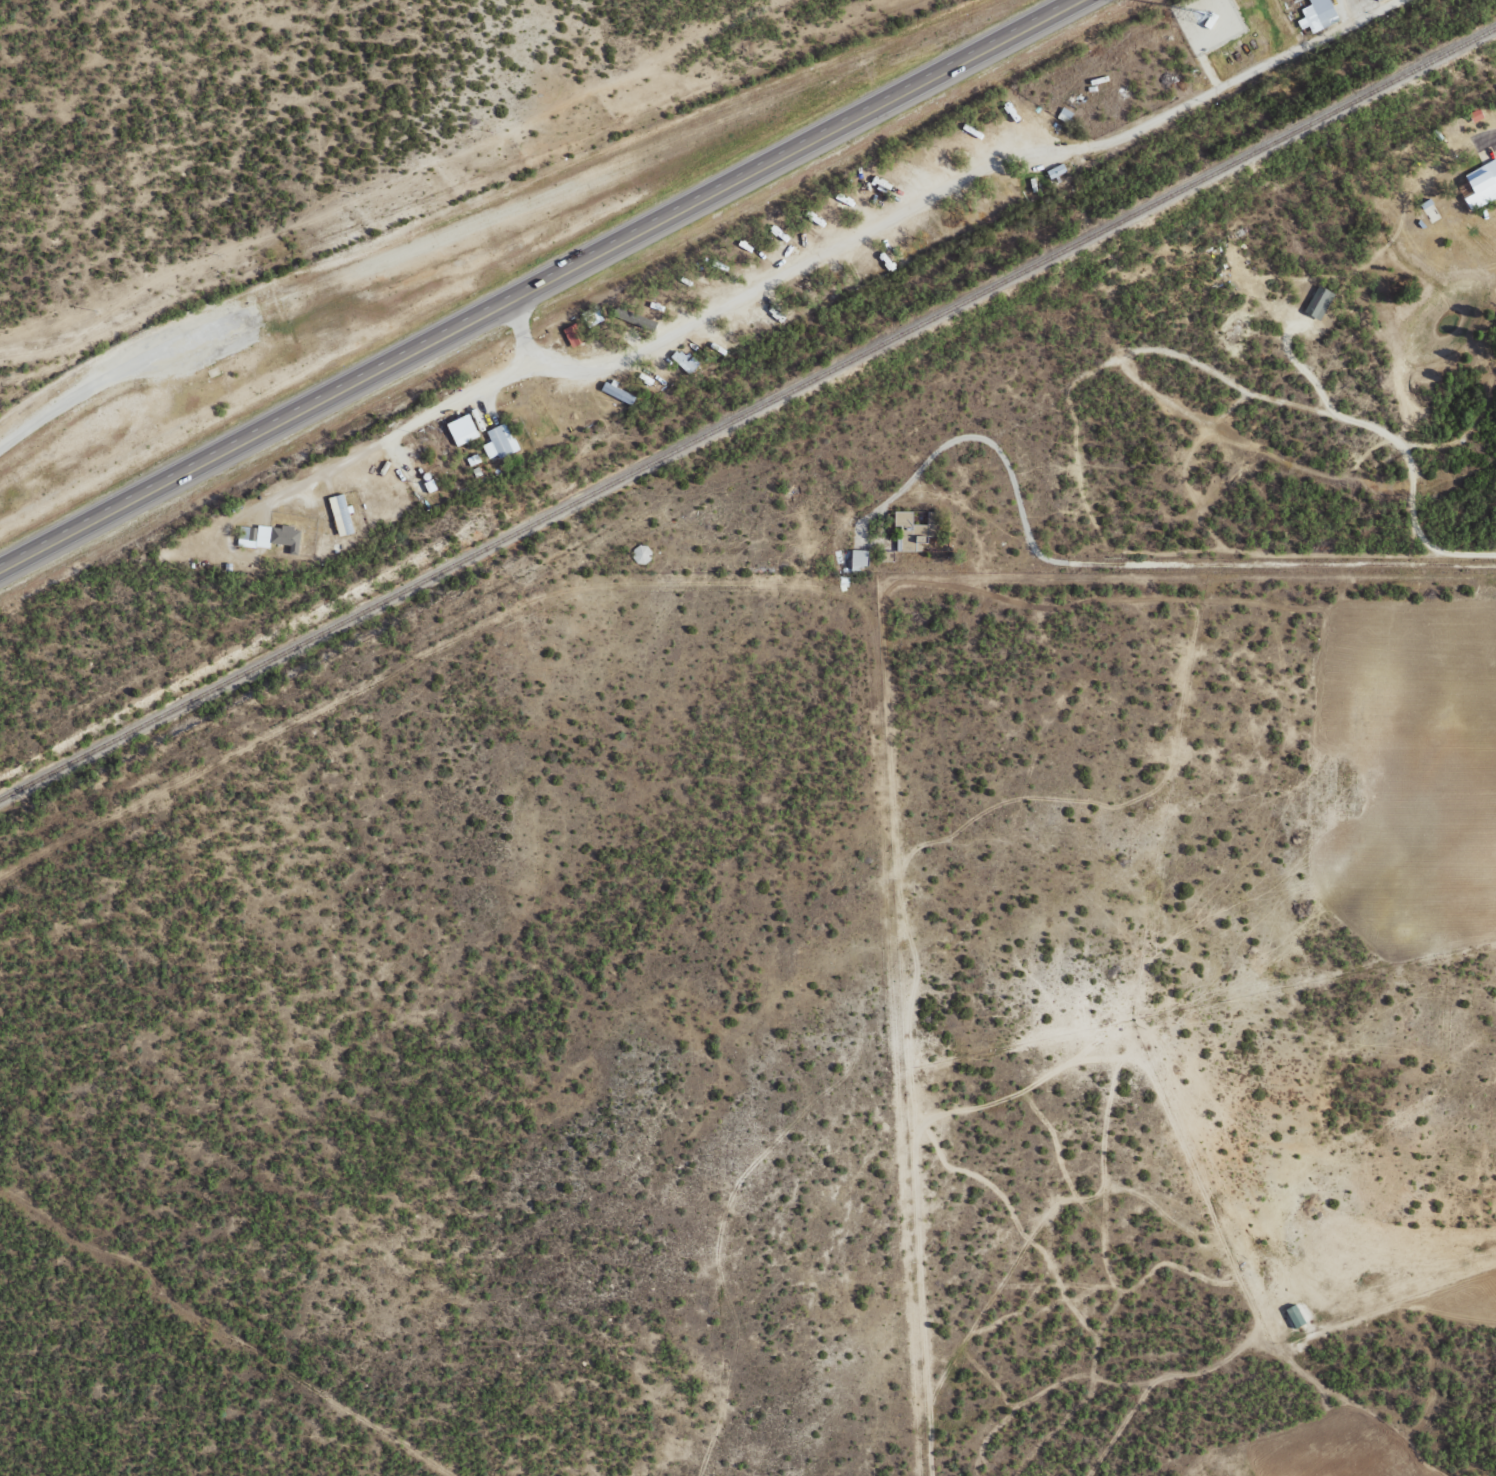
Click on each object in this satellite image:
building: (1375, 0)
building: (1316, 15)
building: (1474, 115)
building: (1056, 170)
building: (1480, 184)
building: (1430, 210)
road: (540, 288)
building: (1317, 302)
building: (683, 360)
building: (616, 392)
railway: (747, 410)
building: (463, 426)
building: (499, 441)
building: (428, 483)
building: (340, 514)
building: (907, 532)
building: (267, 536)
building: (857, 559)
building: (1293, 1315)

